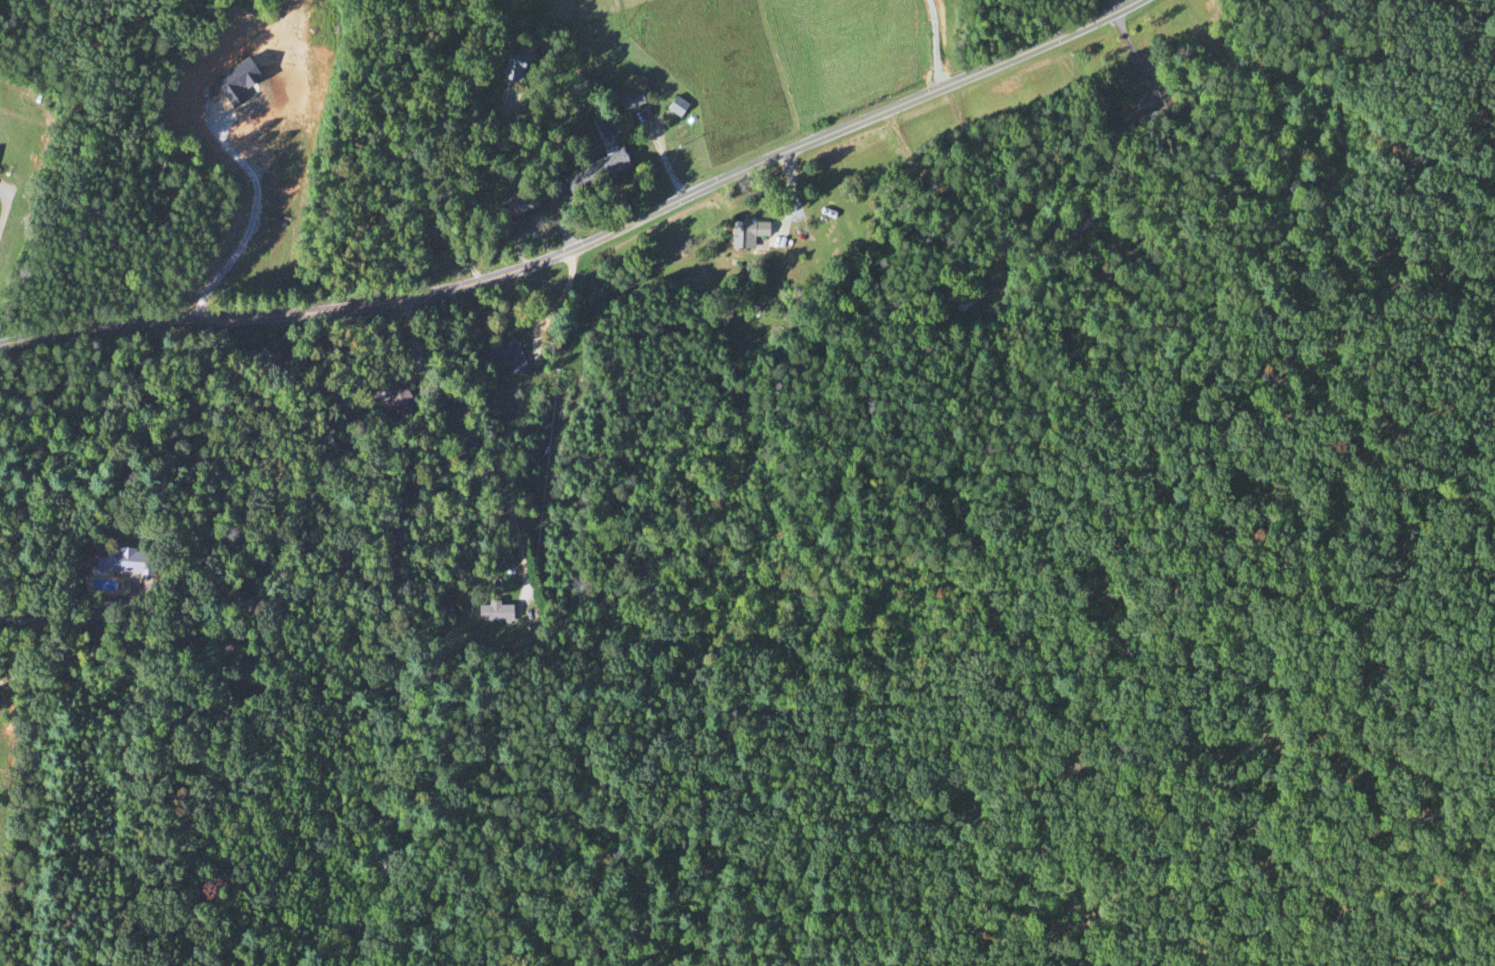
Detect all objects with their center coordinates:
road: (1114, 6)
road: (935, 44)
building: (509, 71)
building: (627, 101)
building: (1141, 107)
building: (674, 108)
building: (602, 128)
building: (9, 163)
building: (596, 172)
road: (471, 189)
road: (0, 192)
building: (518, 205)
building: (1083, 224)
building: (745, 235)
road: (589, 243)
building: (969, 301)
building: (502, 356)
building: (395, 401)
road: (476, 445)
building: (120, 564)
road: (72, 607)
building: (492, 613)

